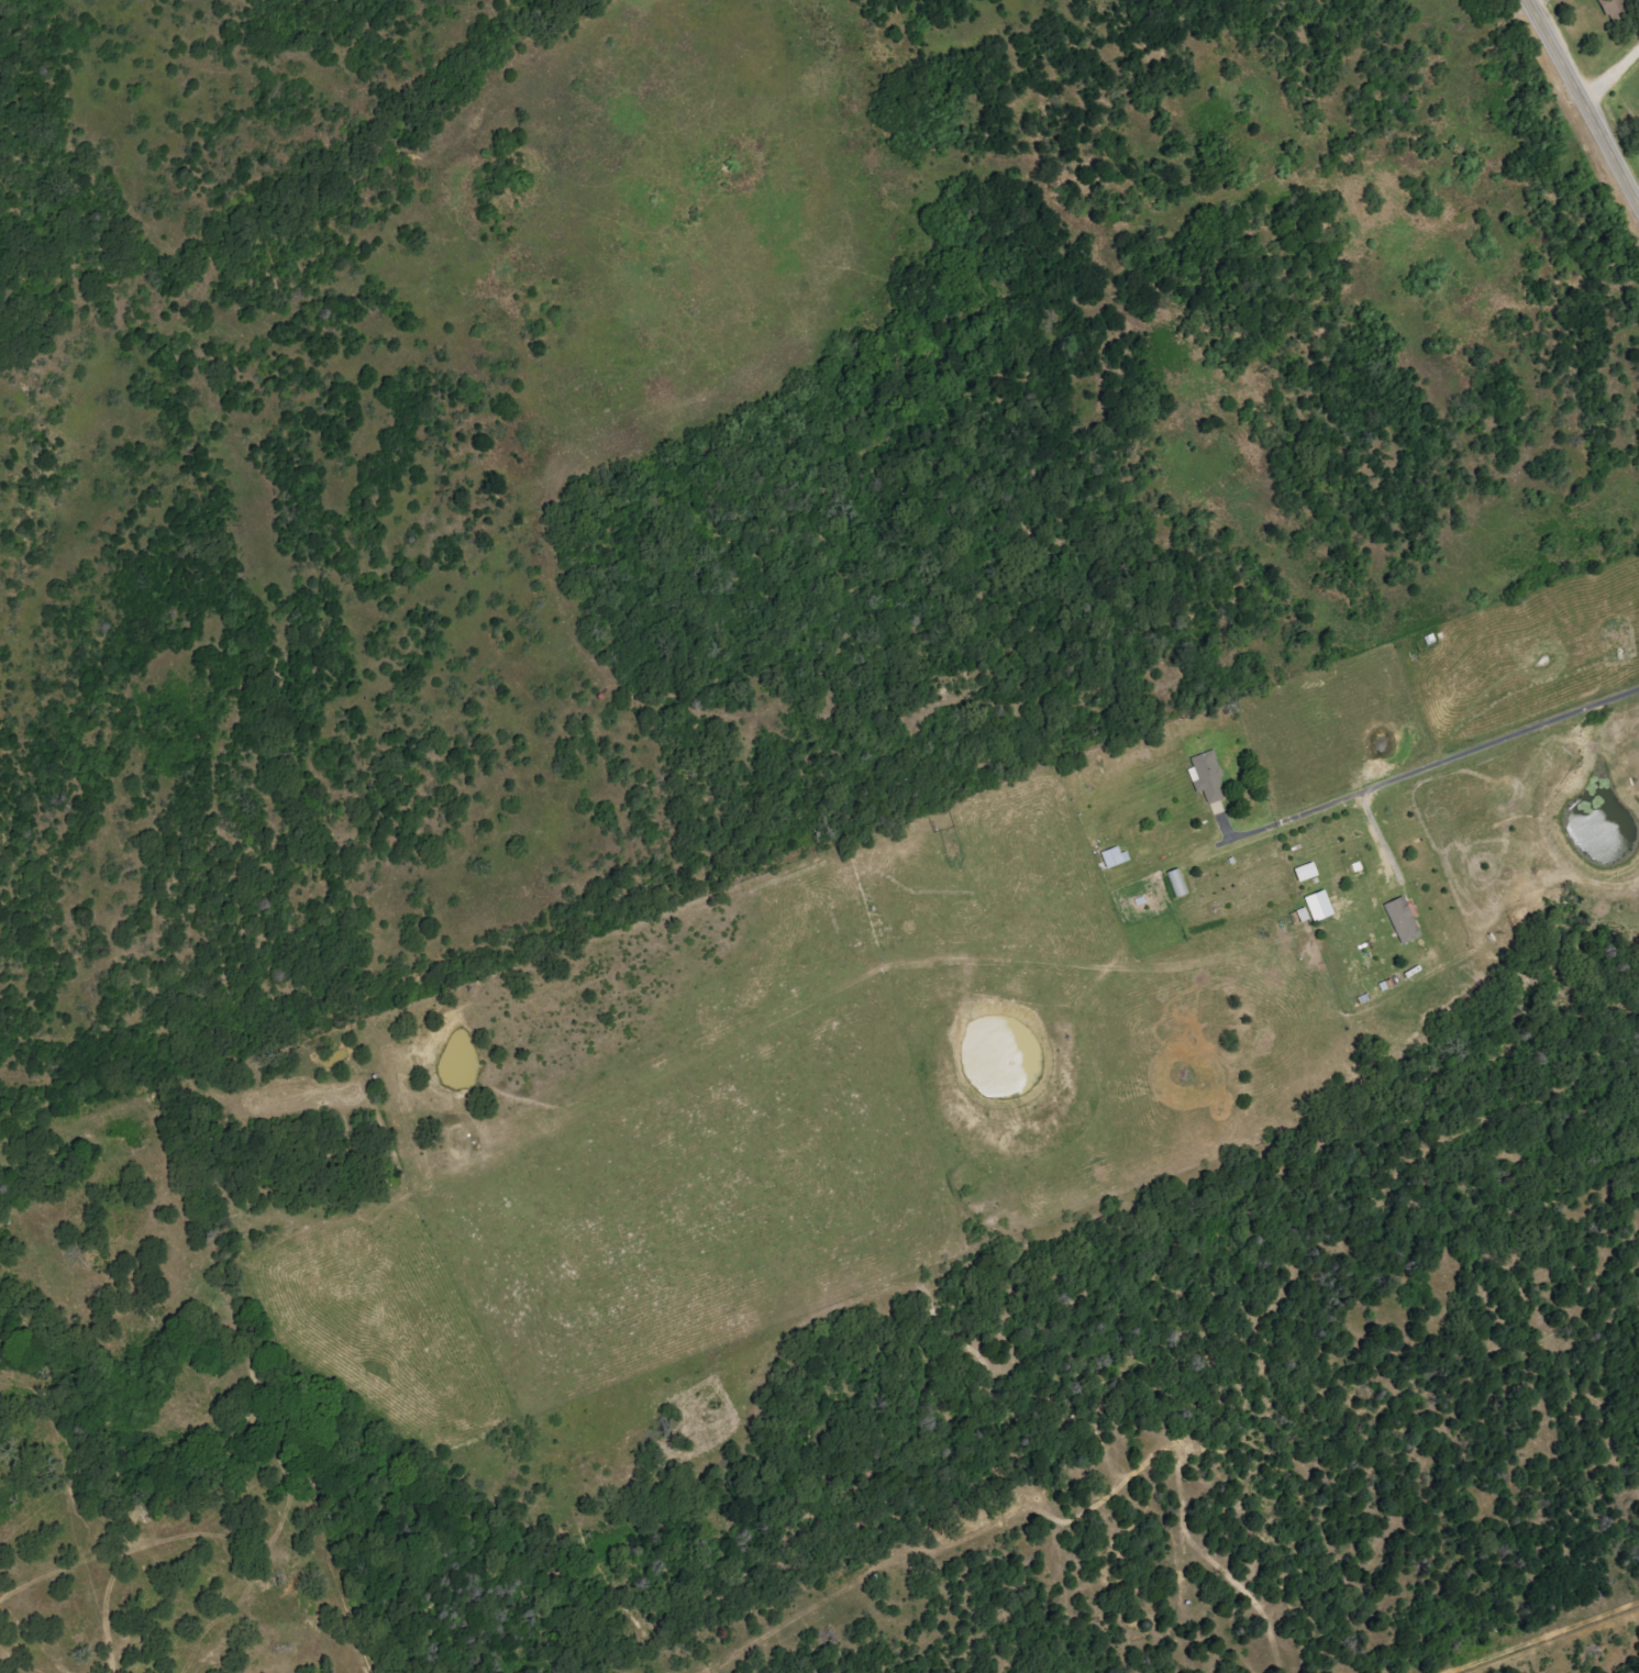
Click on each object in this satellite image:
road: (1612, 76)
road: (1582, 102)
road: (1420, 771)
building: (1206, 777)
road: (1376, 830)
building: (1112, 856)
building: (1304, 872)
building: (1175, 882)
building: (1317, 906)
building: (1400, 919)

